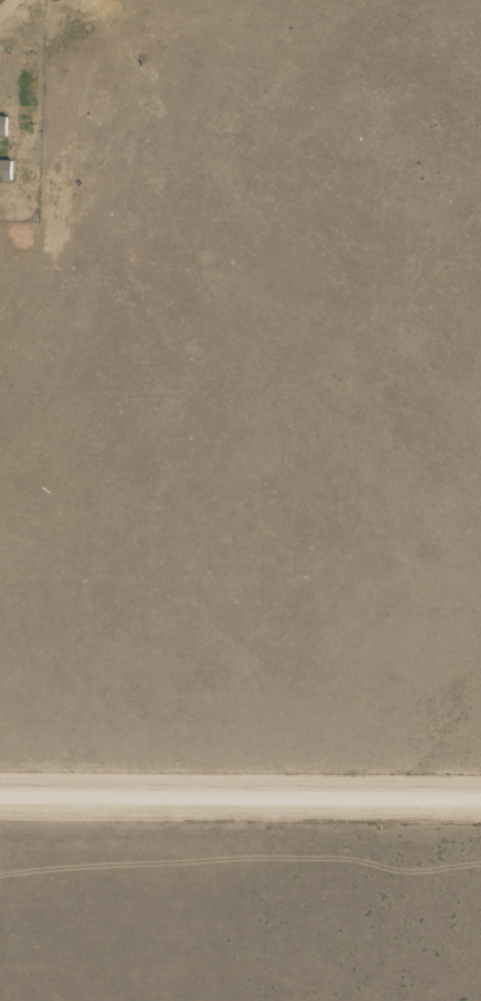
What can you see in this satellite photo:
road: (1, 2)
road: (240, 795)

